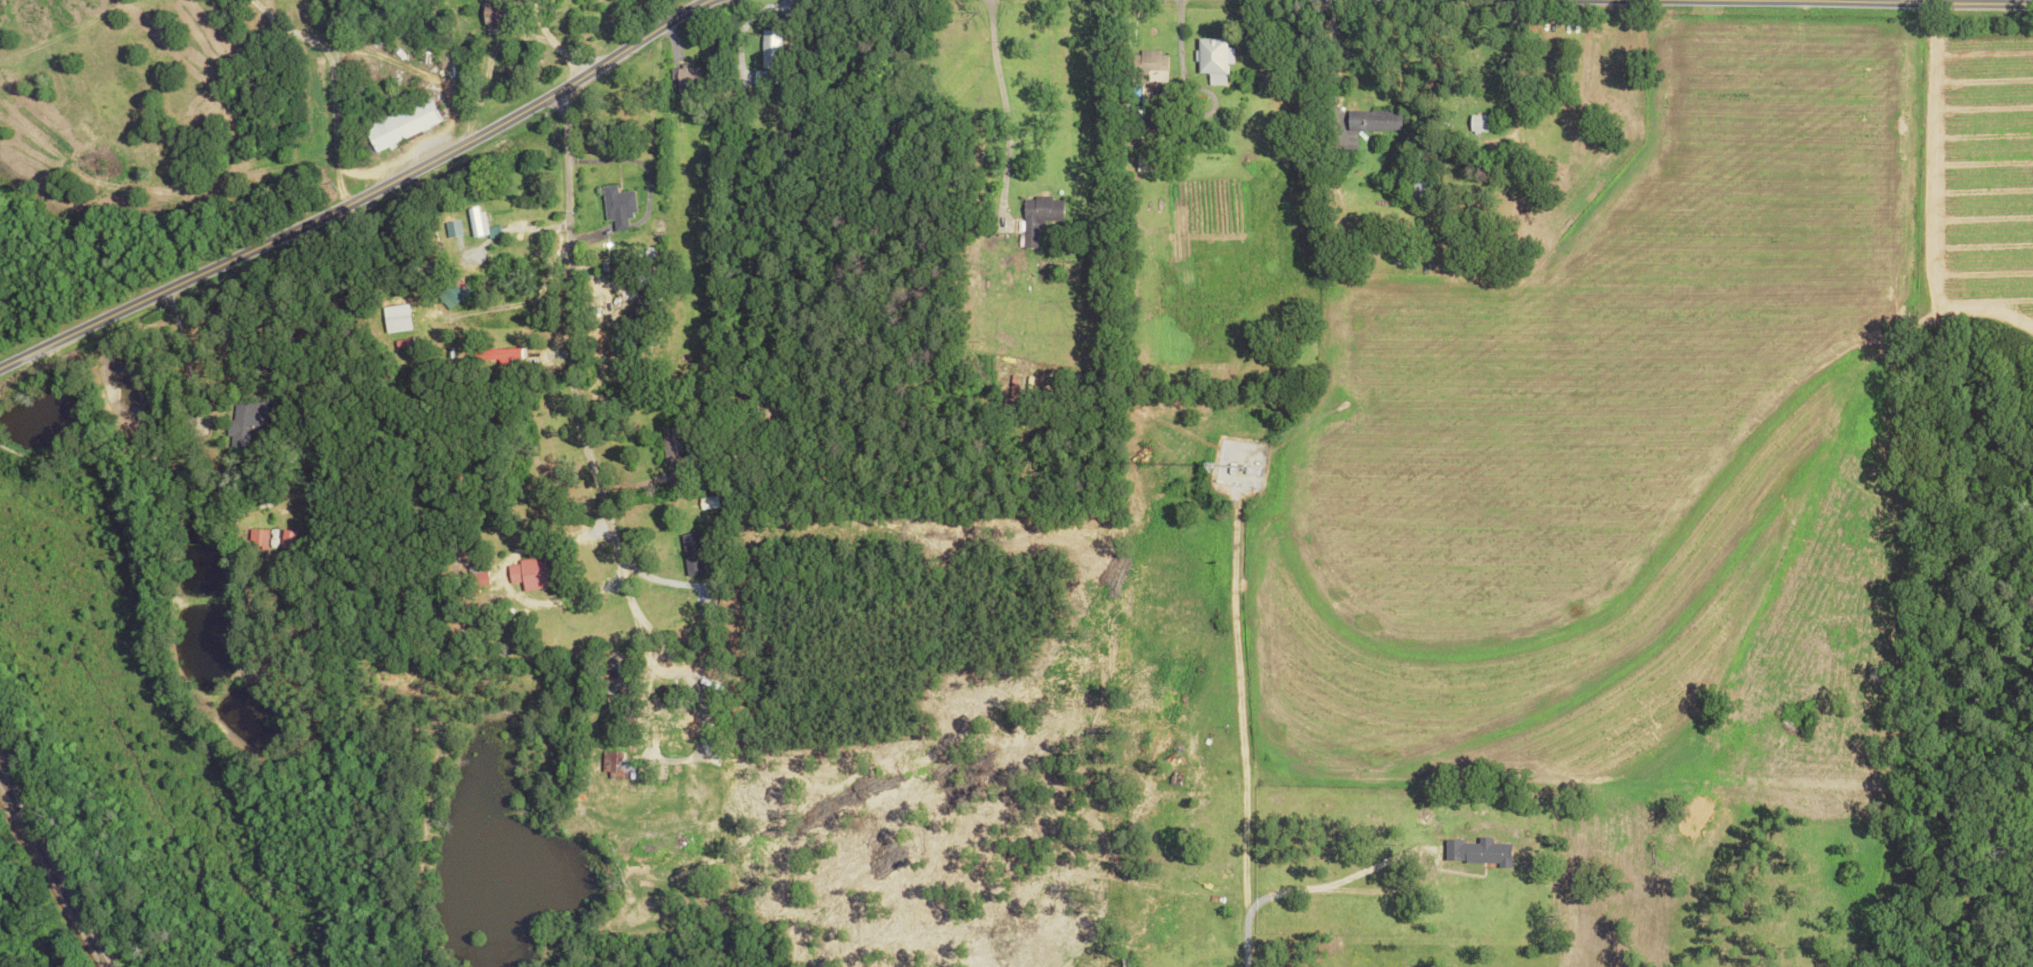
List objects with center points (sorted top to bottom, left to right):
road: (1916, 6)
road: (1826, 9)
building: (492, 13)
road: (1171, 36)
building: (768, 48)
road: (1325, 57)
building: (1212, 59)
building: (1150, 62)
building: (681, 78)
building: (759, 78)
road: (992, 98)
building: (1372, 120)
building: (1477, 123)
building: (398, 124)
building: (1142, 163)
road: (354, 193)
building: (616, 206)
building: (1036, 216)
building: (474, 220)
building: (452, 293)
building: (395, 318)
building: (501, 356)
road: (577, 413)
building: (246, 420)
building: (672, 455)
road: (121, 517)
building: (256, 539)
building: (286, 539)
building: (691, 554)
building: (530, 573)
road: (500, 581)
park: (252, 644)
building: (662, 725)
road: (391, 737)
railway: (6, 796)
railway: (18, 818)
road: (76, 843)
building: (1478, 851)
road: (1422, 860)
road: (1248, 904)
railway: (72, 911)

